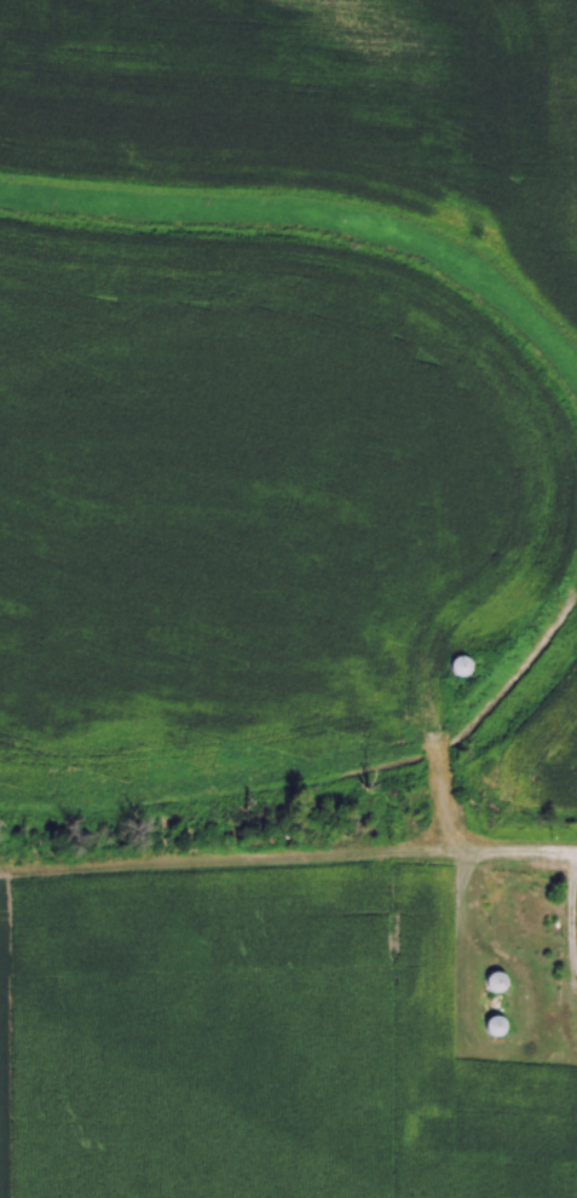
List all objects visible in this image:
road: (536, 851)
road: (571, 908)

